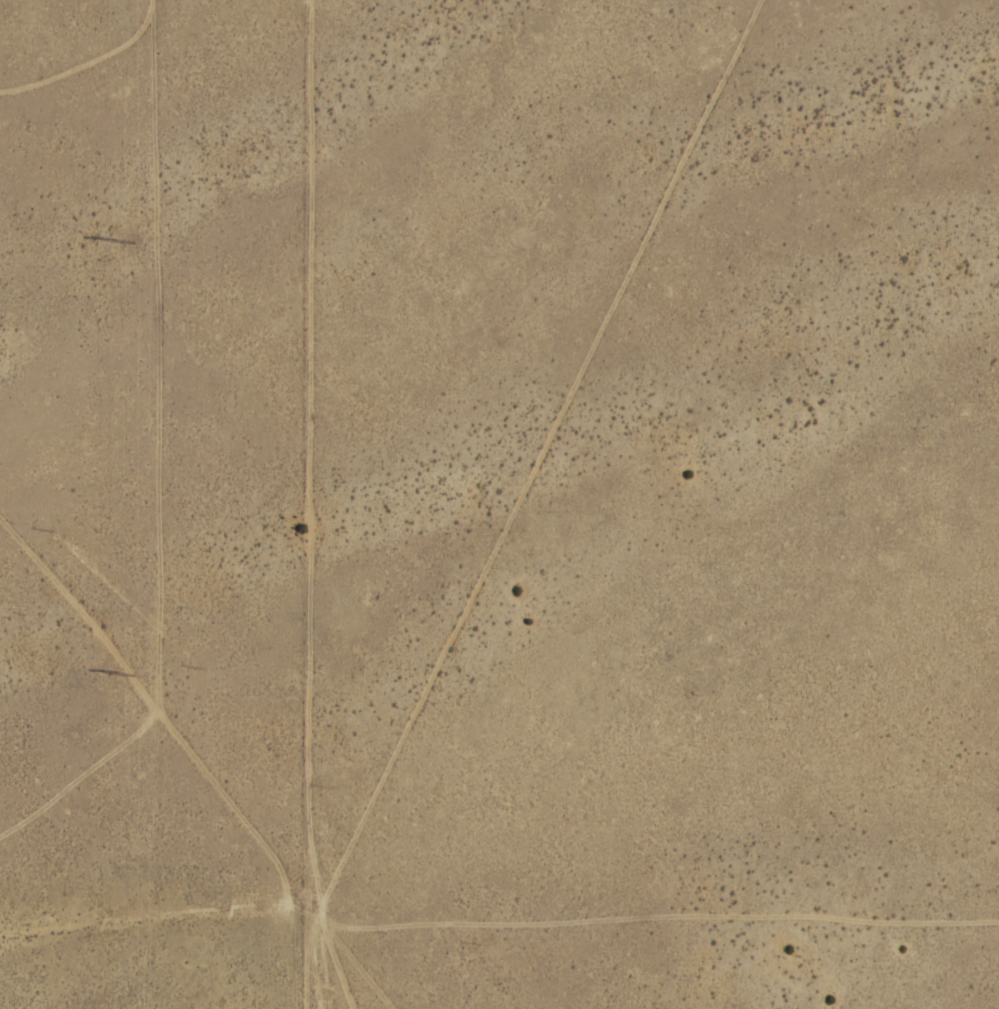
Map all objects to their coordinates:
power tower: (132, 241)
power tower: (131, 675)
road: (175, 796)

